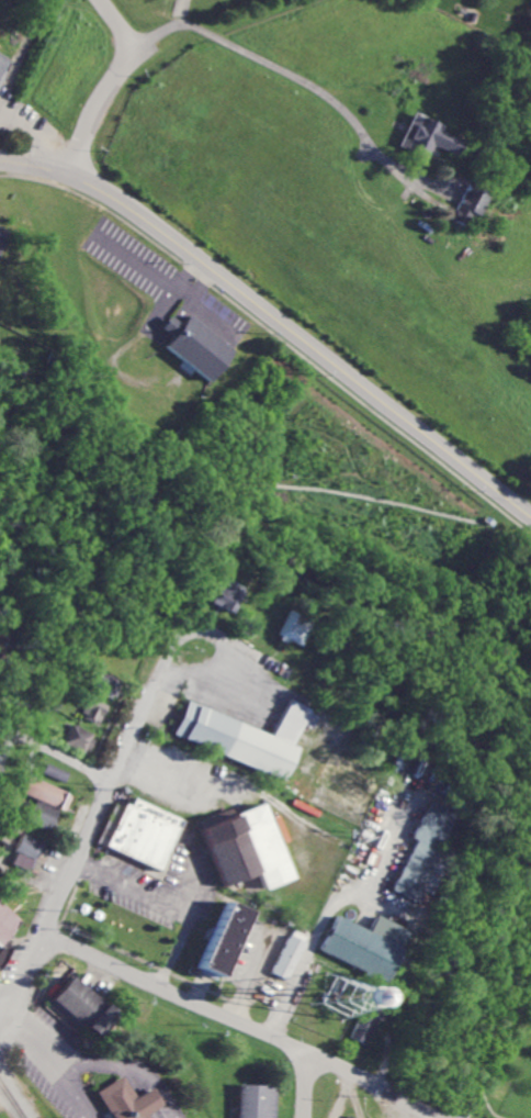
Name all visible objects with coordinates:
road: (24, 52)
building: (4, 66)
gas station: (4, 66)
road: (282, 70)
road: (112, 86)
road: (35, 132)
building: (429, 135)
building: (471, 203)
road: (275, 316)
road: (275, 334)
building: (199, 347)
road: (274, 483)
building: (227, 594)
building: (295, 628)
road: (236, 642)
road: (208, 678)
building: (95, 709)
road: (439, 713)
building: (248, 736)
building: (79, 737)
road: (56, 753)
building: (57, 772)
building: (46, 793)
building: (43, 815)
road: (93, 825)
building: (145, 832)
building: (248, 847)
building: (423, 849)
building: (25, 852)
road: (184, 886)
road: (135, 888)
road: (328, 916)
building: (4, 921)
building: (225, 938)
building: (368, 944)
building: (2, 950)
road: (178, 950)
building: (289, 957)
road: (255, 994)
building: (75, 1002)
building: (100, 1019)
road: (244, 1022)
building: (365, 1026)
road: (33, 1037)
road: (101, 1060)
road: (307, 1084)
railway: (12, 1097)
building: (128, 1098)
building: (256, 1102)

